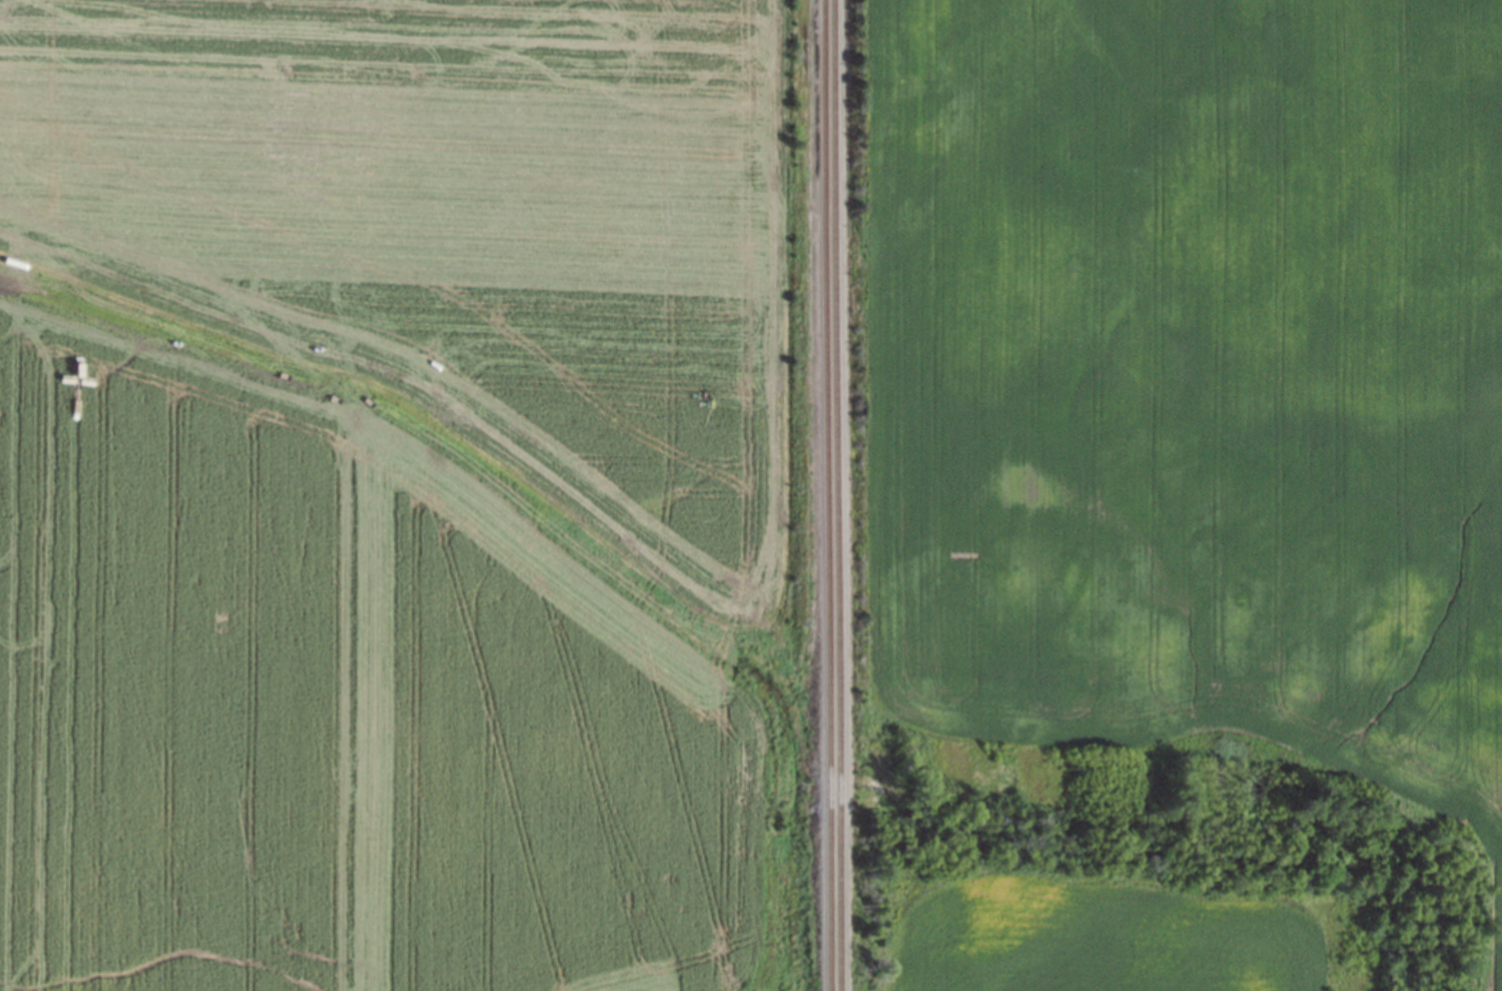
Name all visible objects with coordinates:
crop: (459, 233)
crop: (1195, 379)
railway: (825, 495)
railway: (835, 495)
crop: (339, 703)

